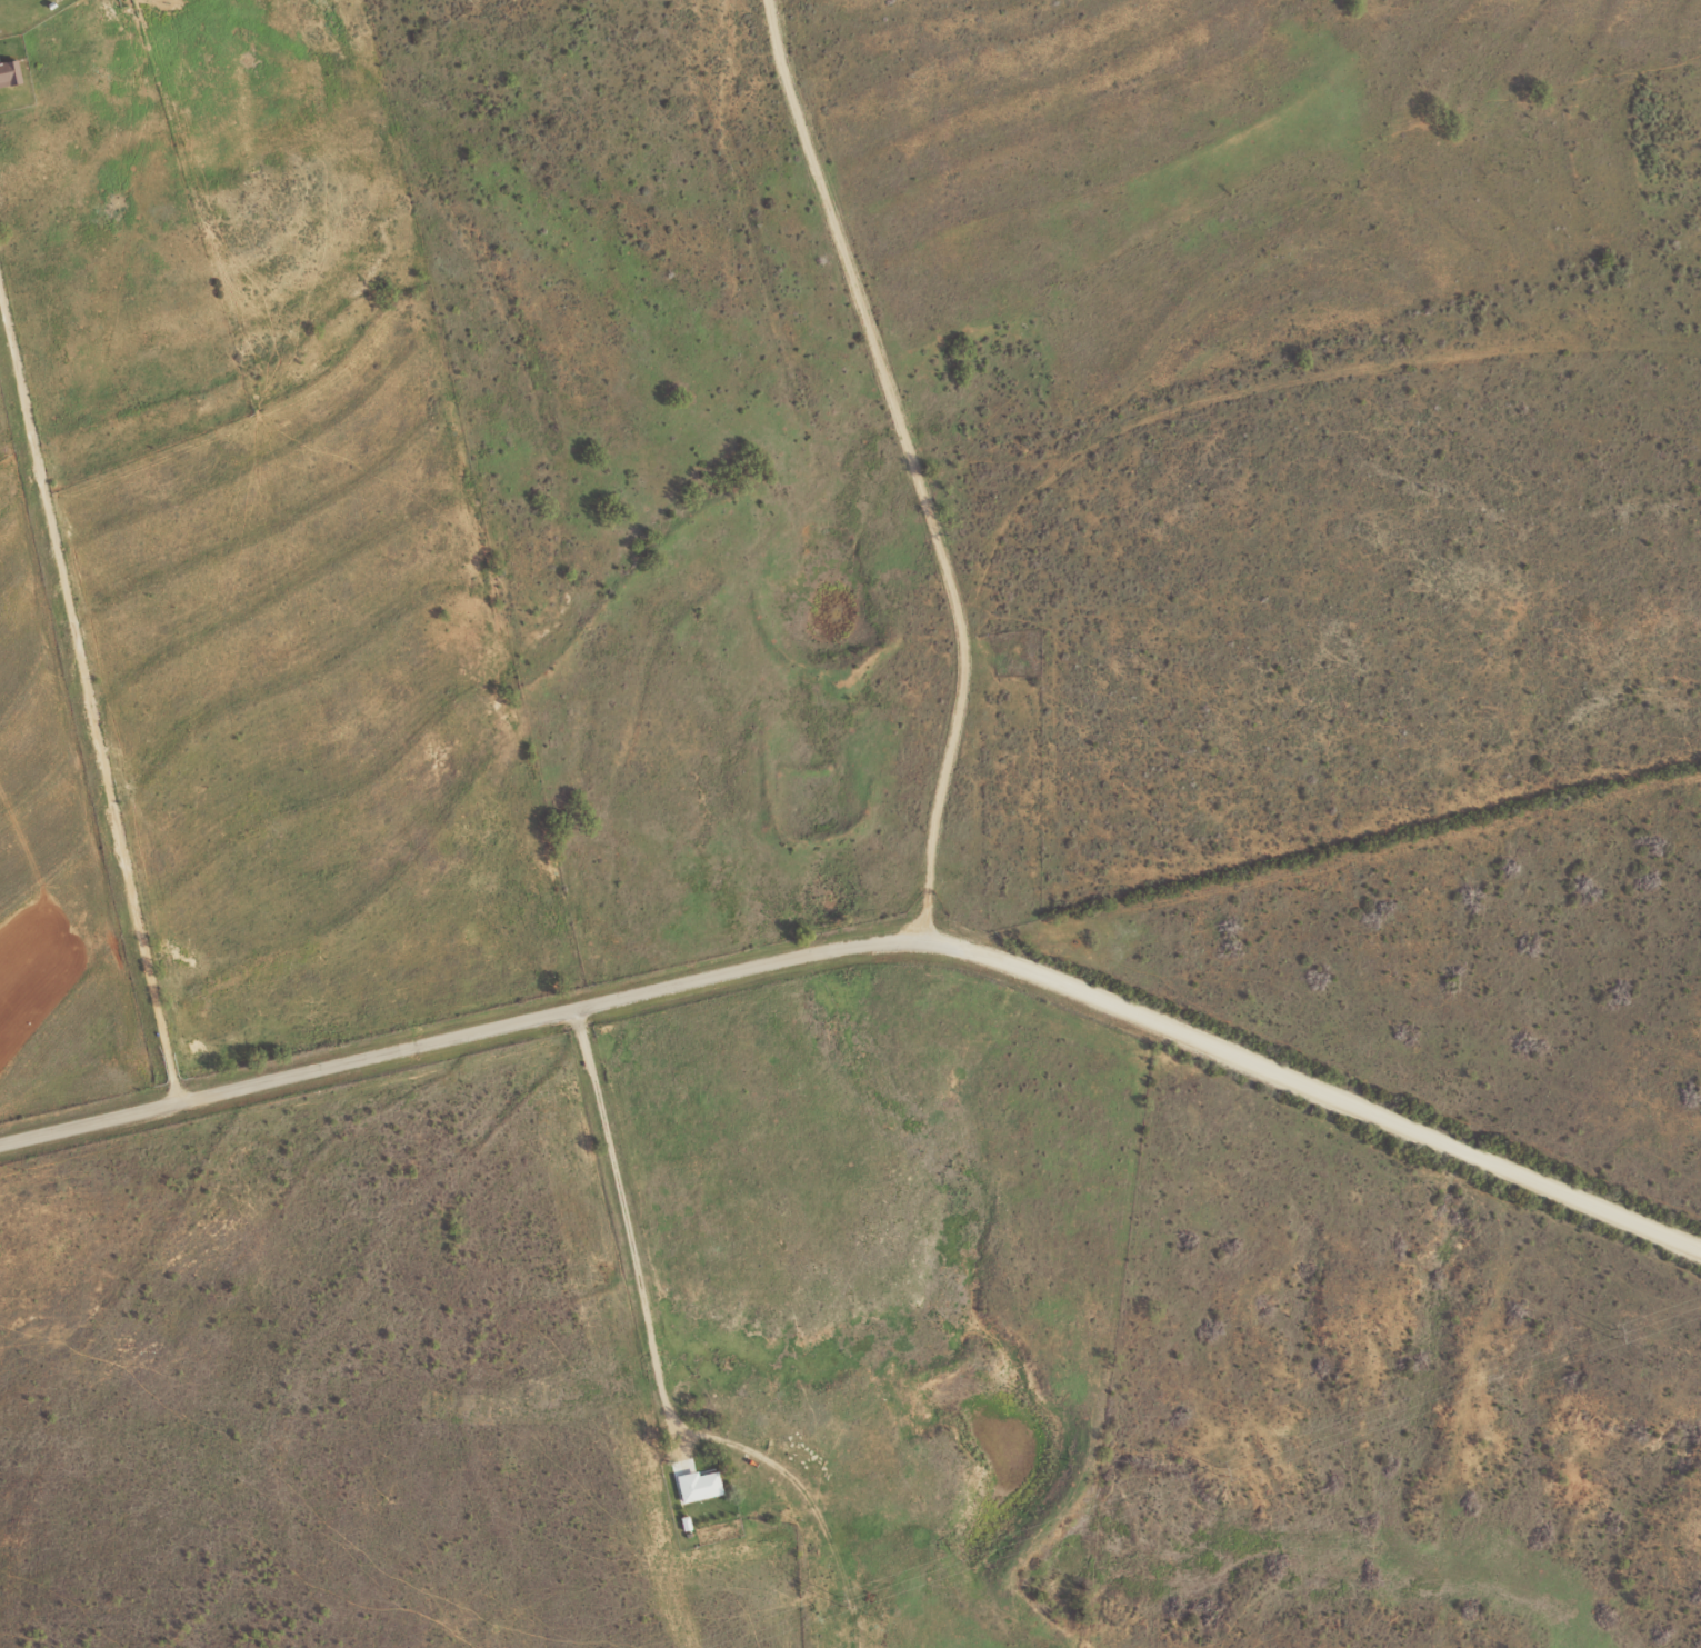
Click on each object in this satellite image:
building: (8, 71)
road: (895, 485)
road: (92, 708)
road: (587, 862)
road: (867, 979)
power tower: (1613, 1330)
power tower: (1215, 1469)
building: (700, 1485)
power tower: (840, 1599)

